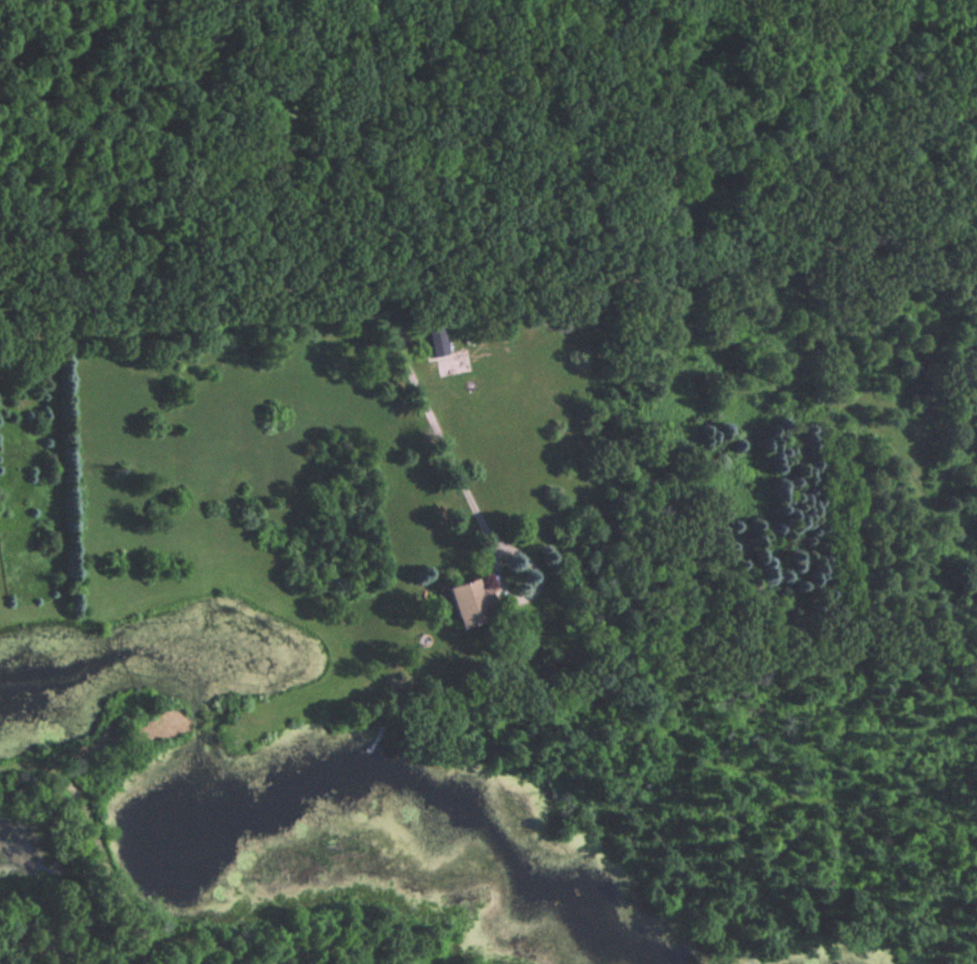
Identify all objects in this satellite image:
road: (344, 293)
building: (433, 339)
road: (550, 409)
building: (467, 601)

